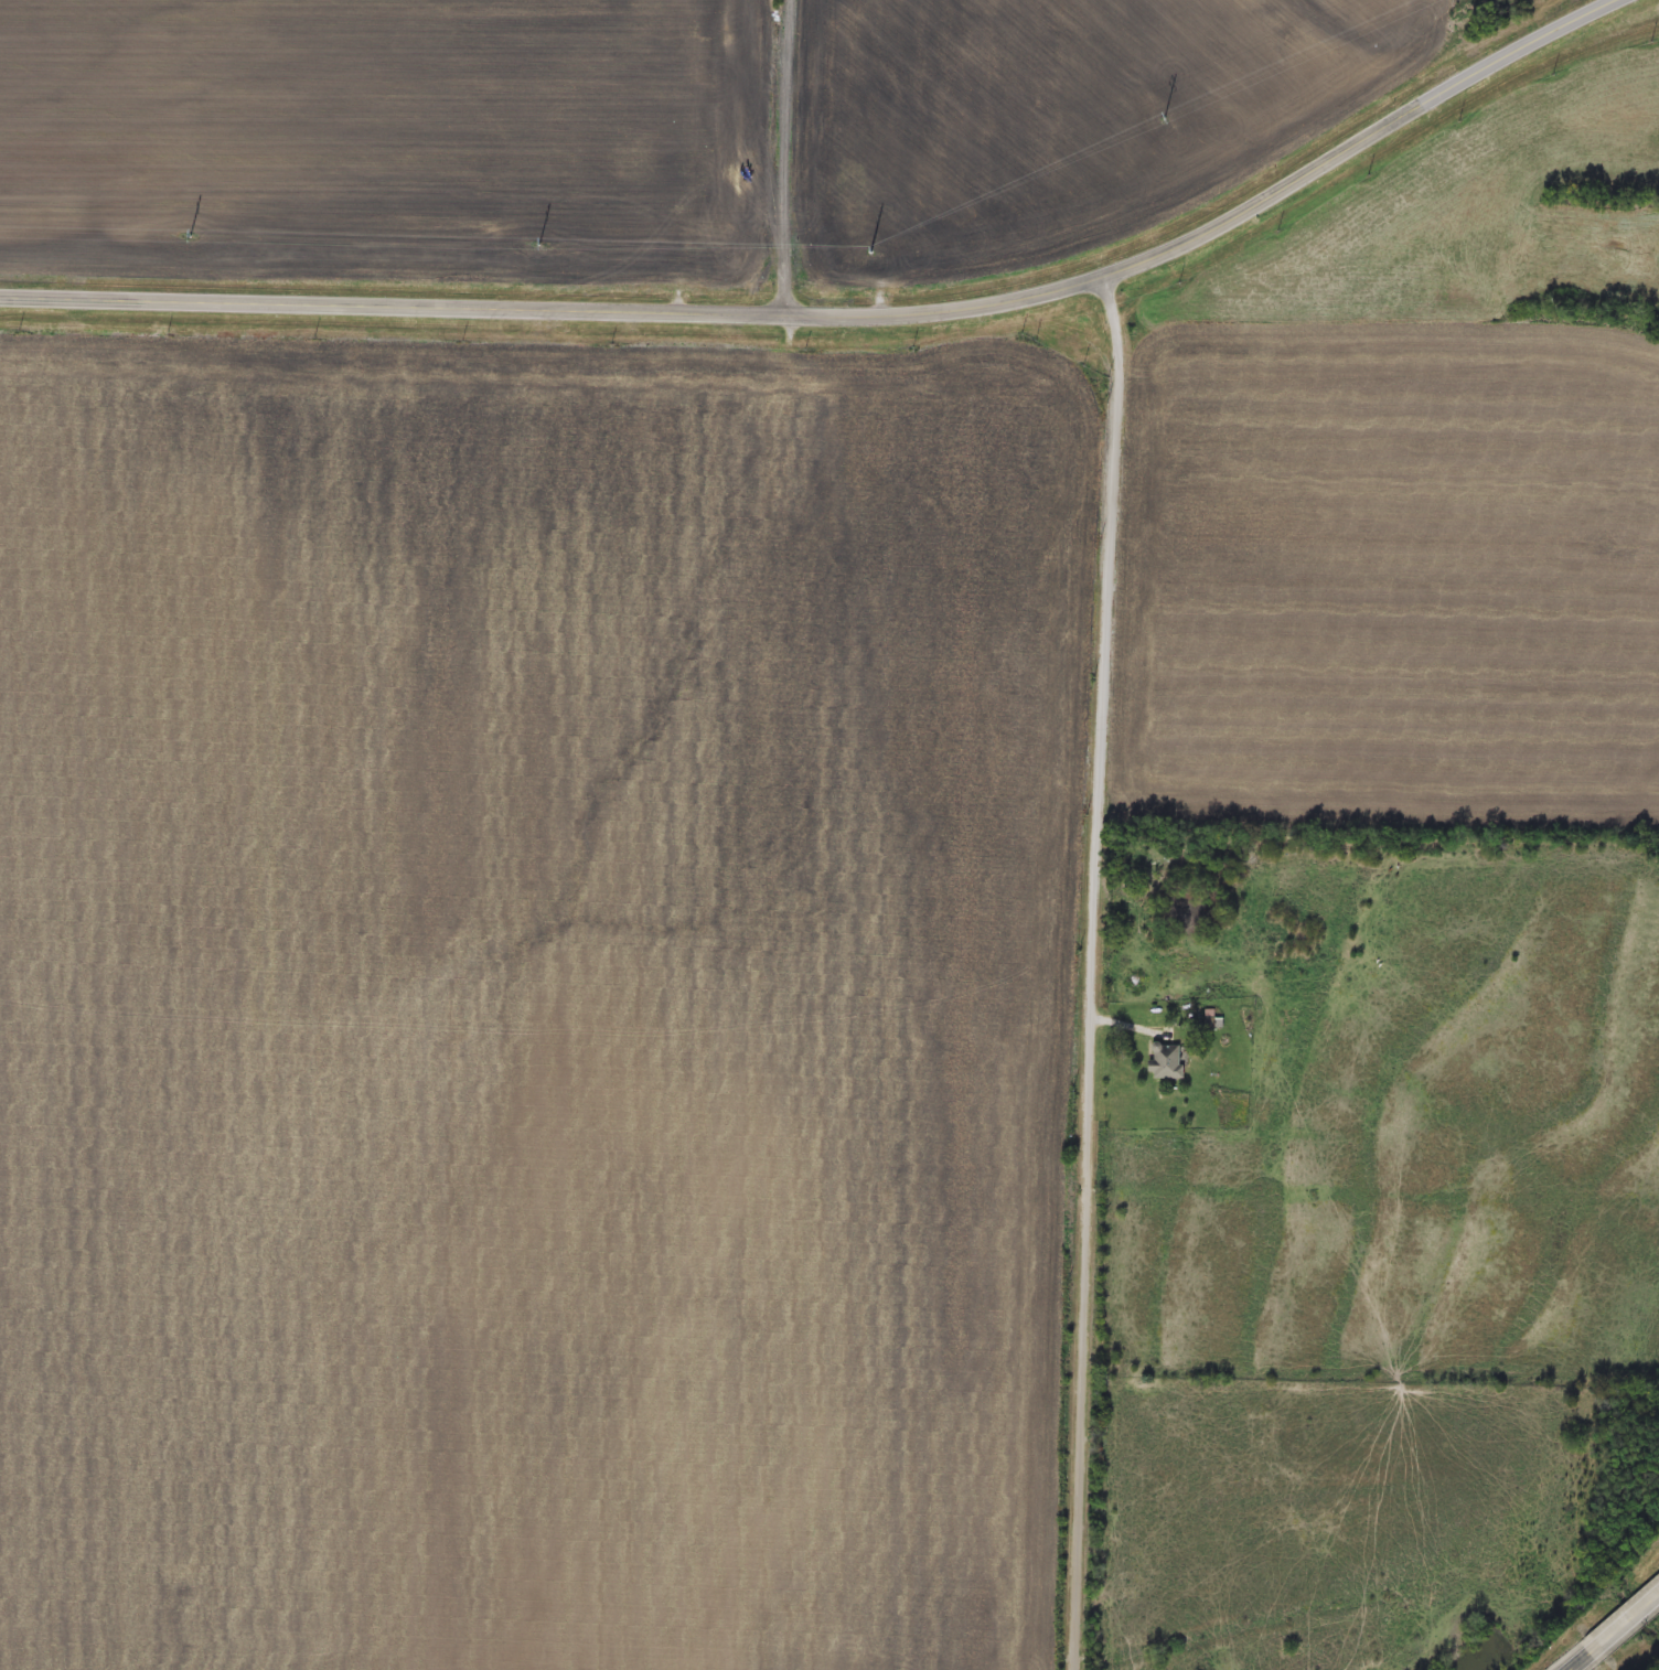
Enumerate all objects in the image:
road: (795, 156)
road: (854, 312)
road: (1087, 970)
building: (1164, 1062)
road: (1624, 1624)
road: (1580, 1662)

